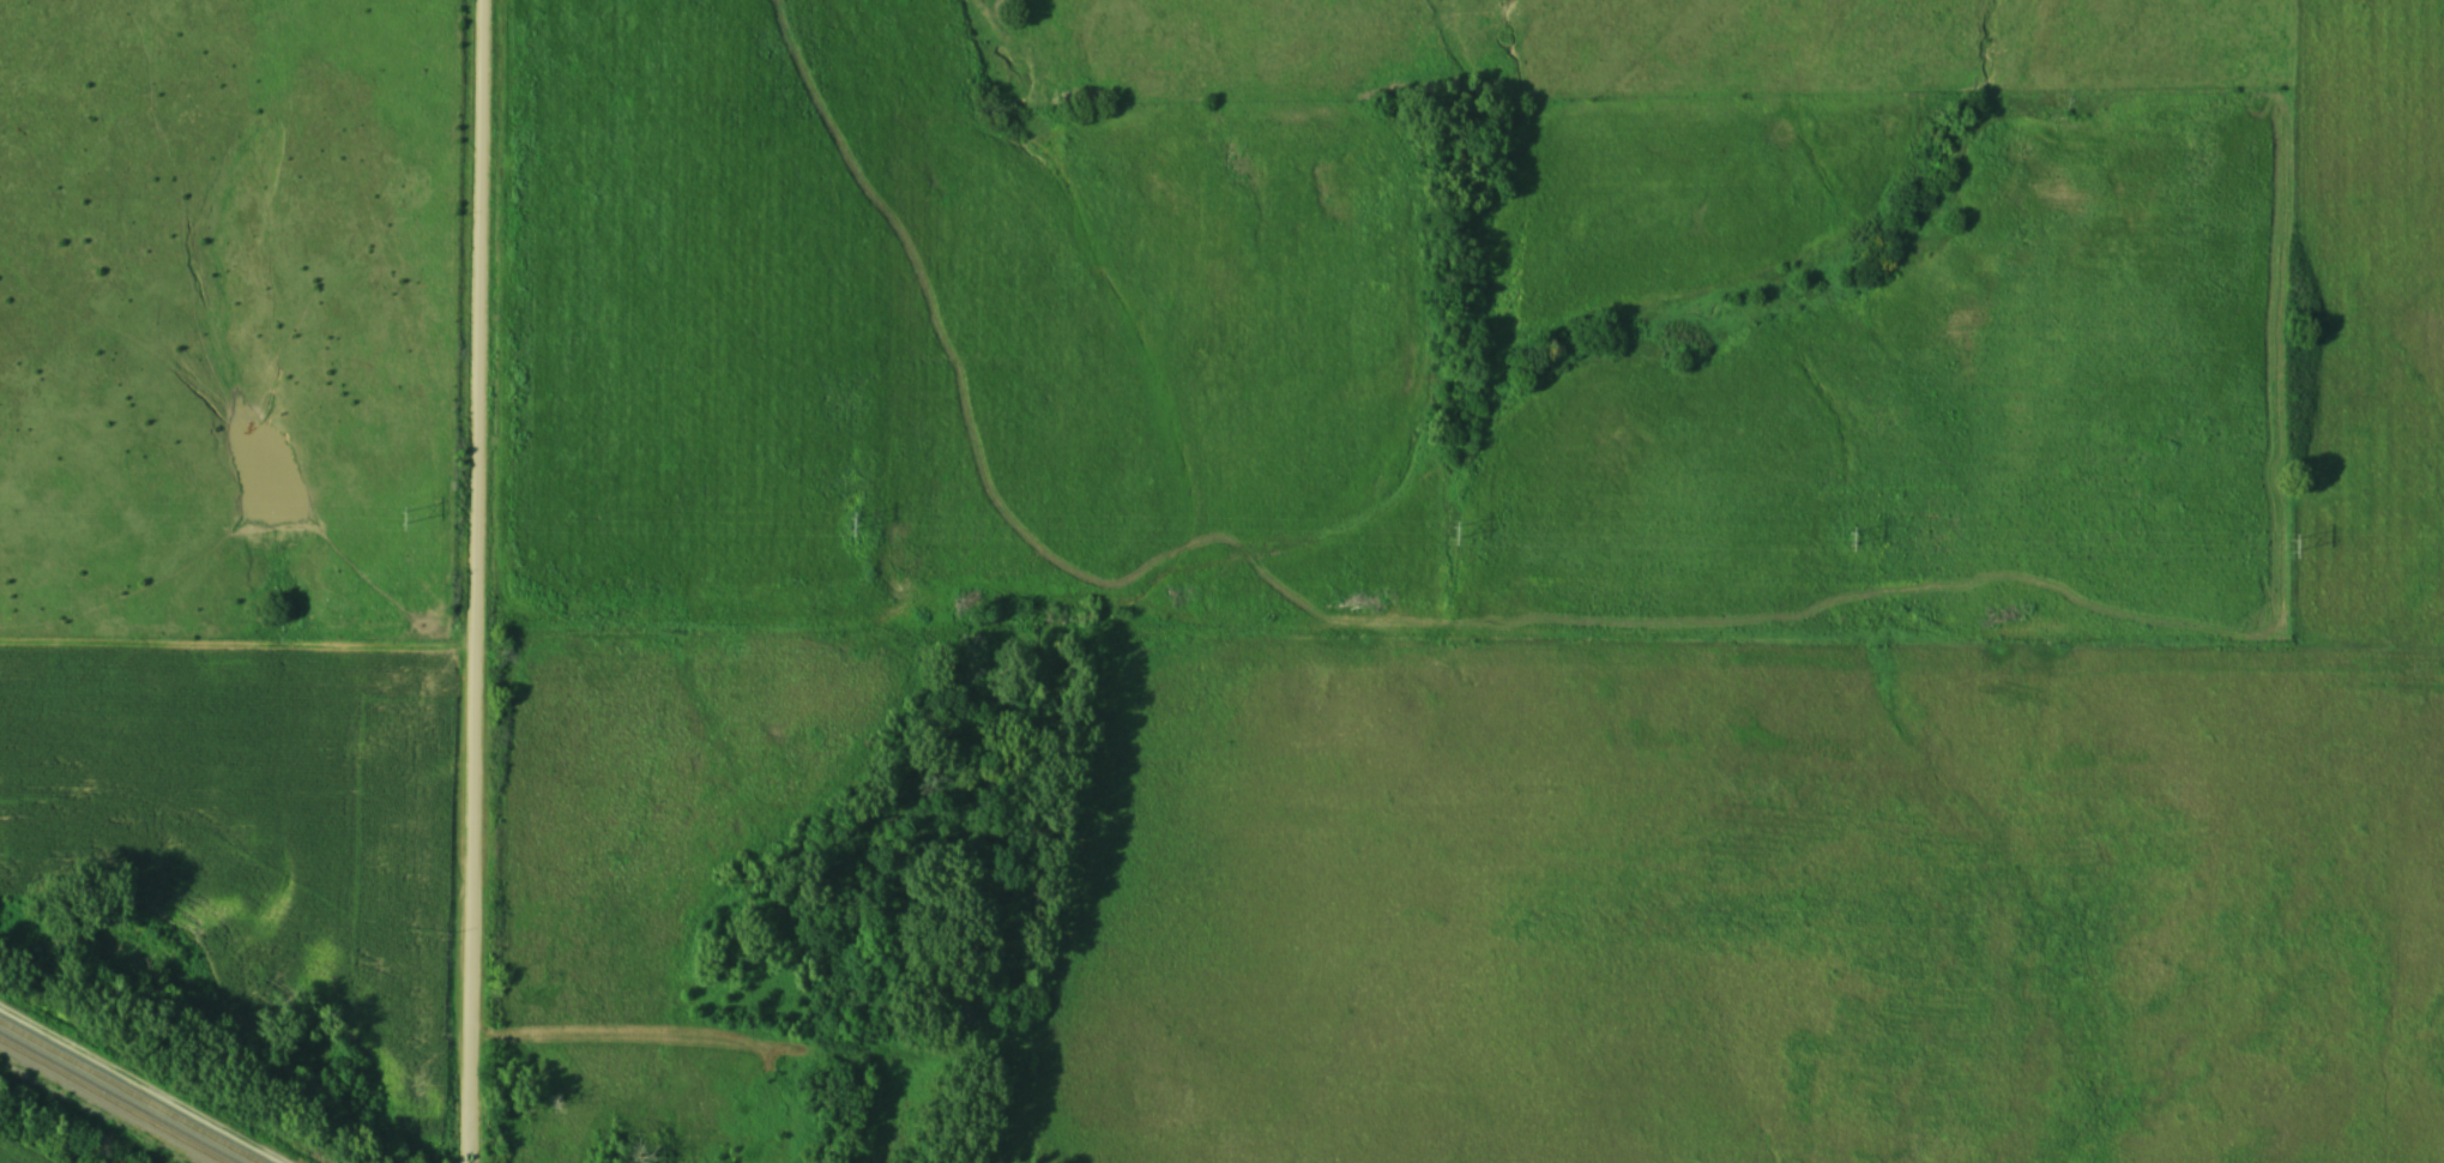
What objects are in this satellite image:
power tower: (403, 516)
power tower: (851, 520)
power tower: (1454, 530)
power tower: (1849, 536)
power tower: (2292, 543)
road: (471, 580)
railway: (133, 1090)
railway: (116, 1099)

